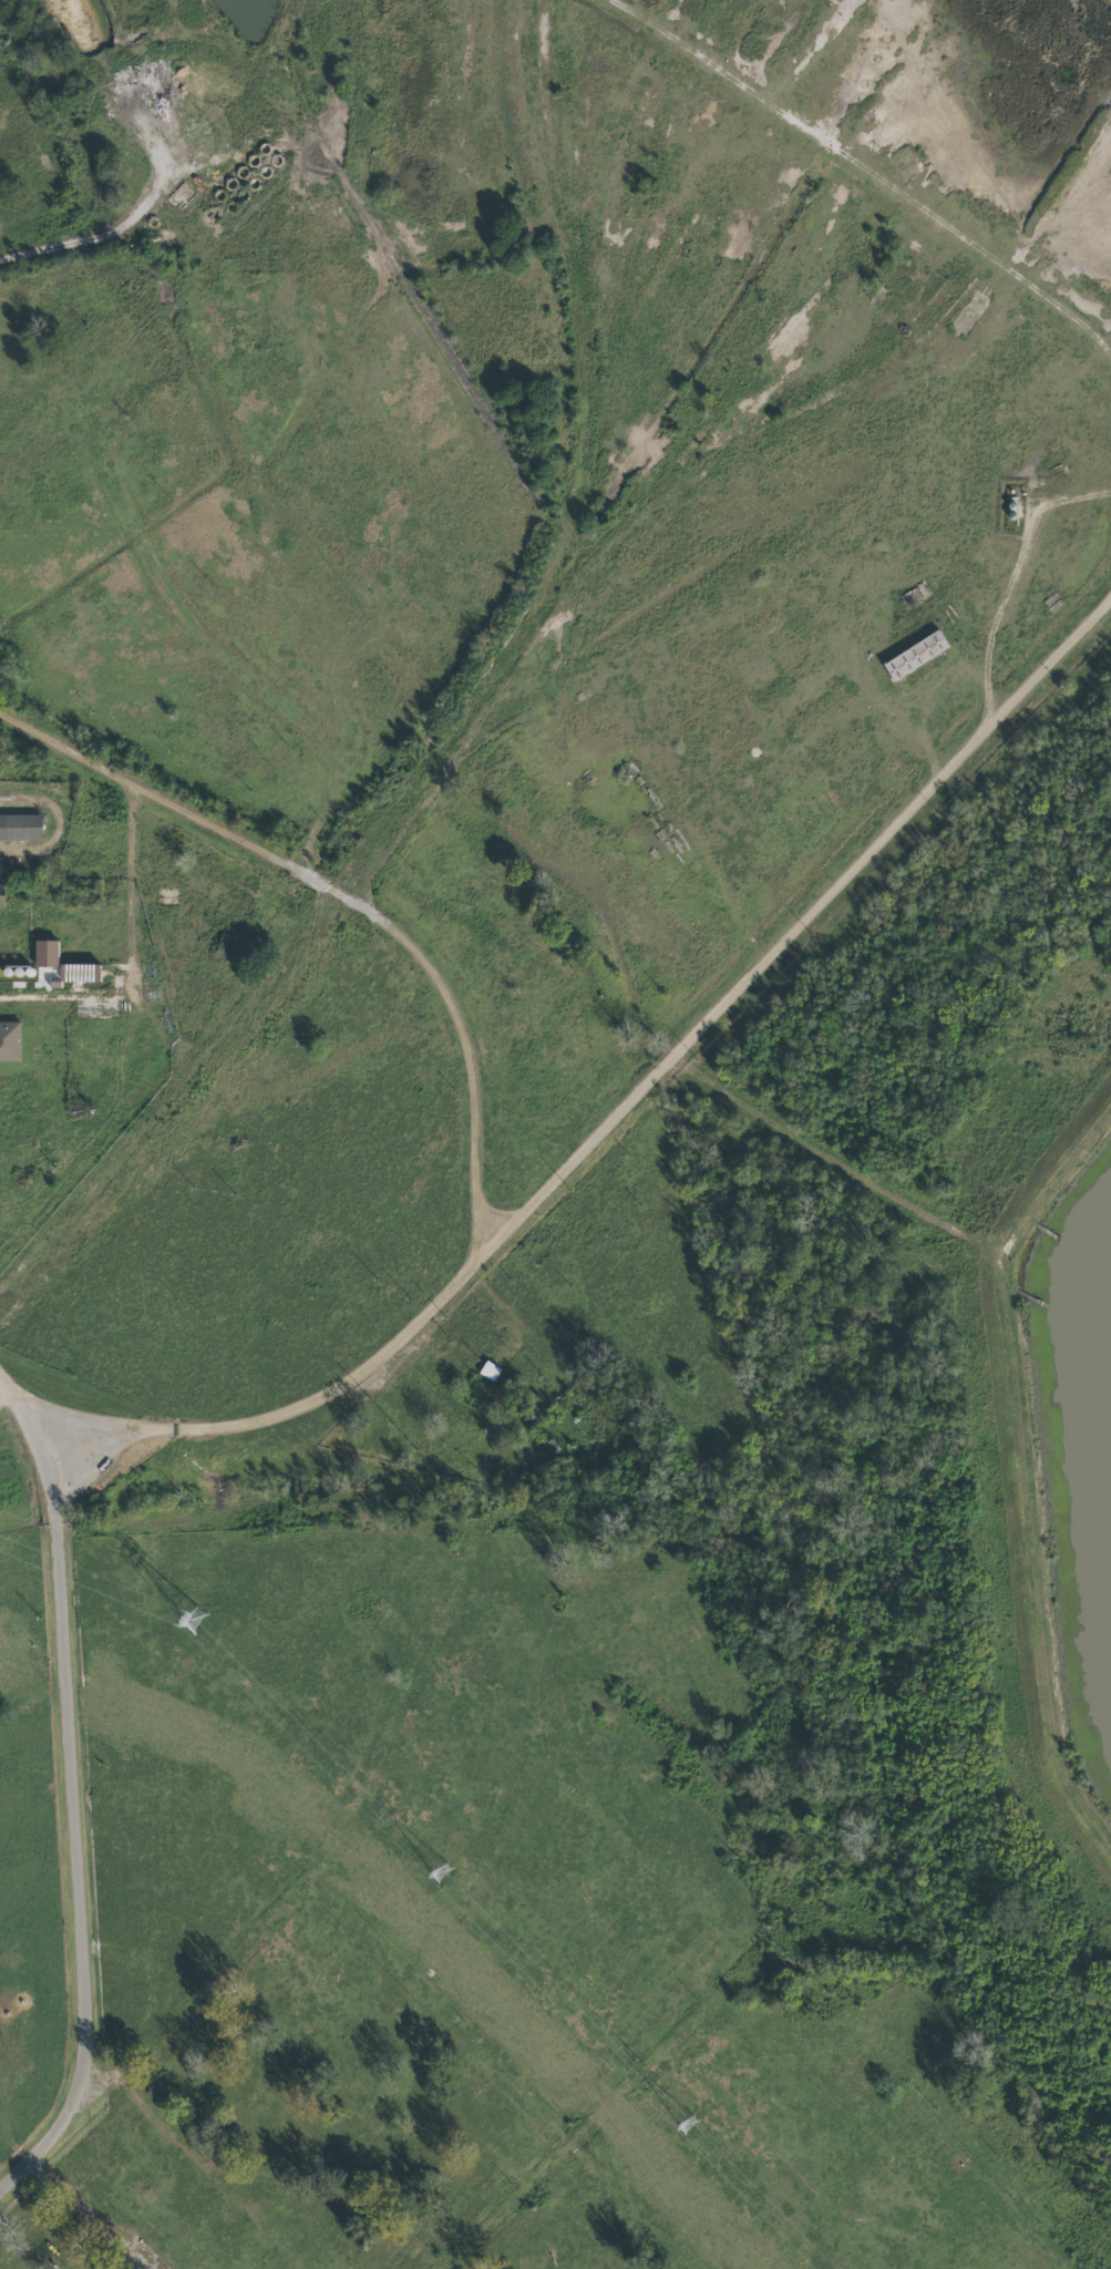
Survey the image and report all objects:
road: (1008, 583)
building: (914, 655)
road: (51, 820)
building: (20, 825)
building: (0, 894)
road: (348, 896)
building: (44, 952)
building: (9, 1040)
road: (605, 1128)
road: (829, 1166)
building: (488, 1370)
road: (1022, 1456)
power tower: (192, 1620)
road: (56, 1653)
power tower: (441, 1871)
road: (72, 2077)
power tower: (687, 2123)
road: (82, 2215)

